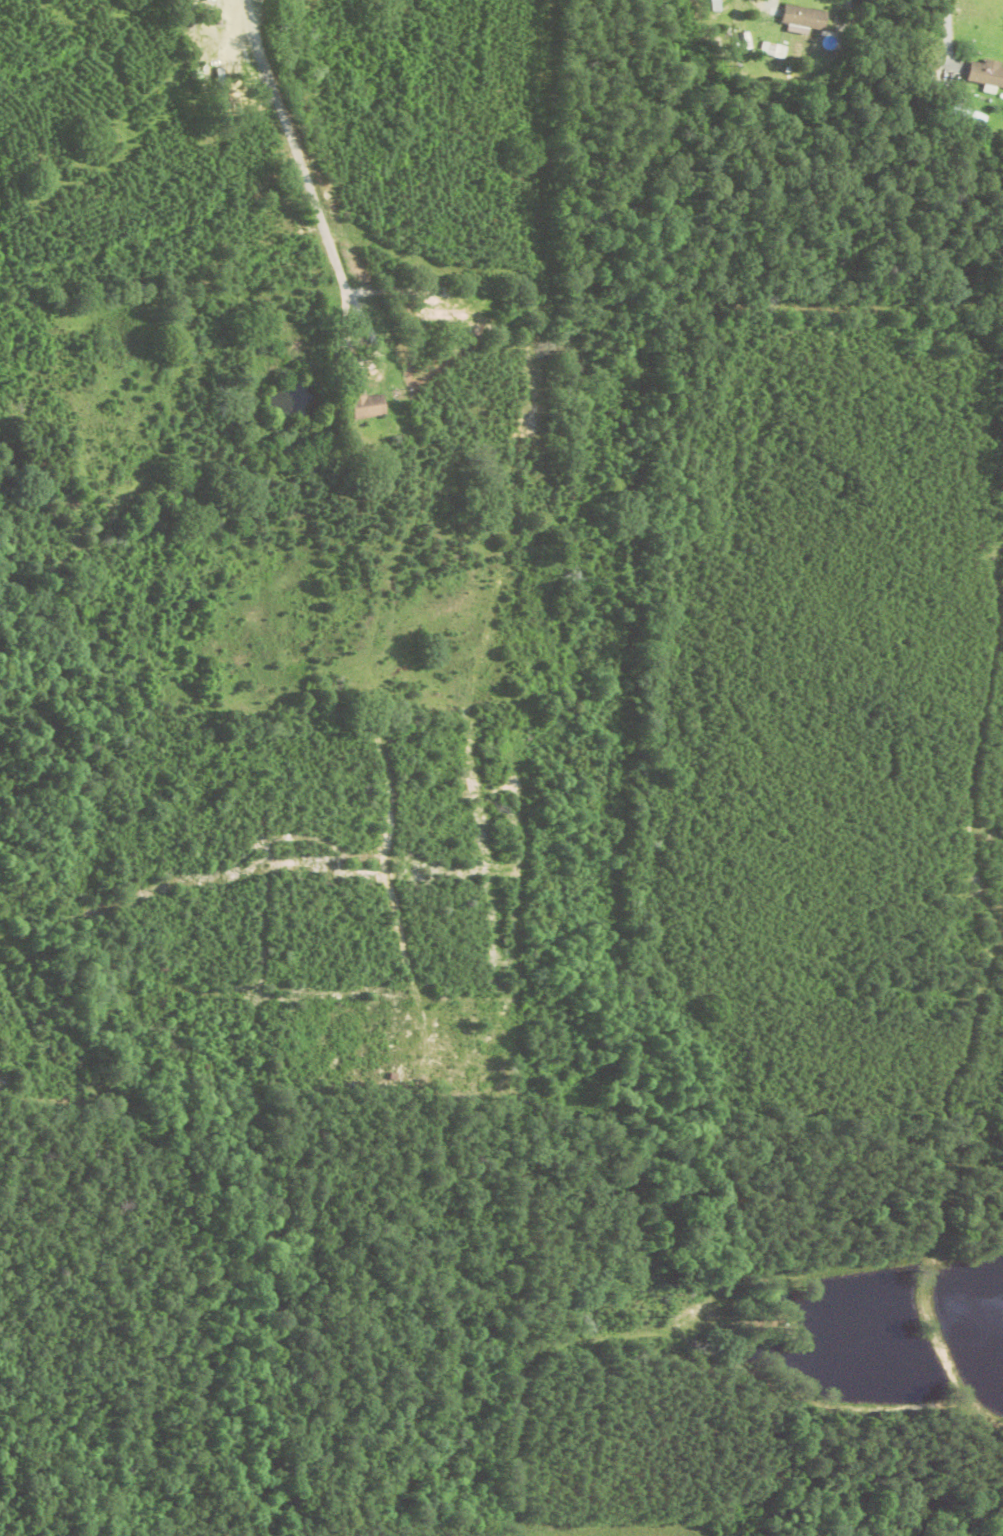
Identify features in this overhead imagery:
building: (804, 17)
road: (946, 32)
building: (744, 37)
building: (986, 72)
road: (303, 183)
building: (447, 315)
building: (369, 406)

